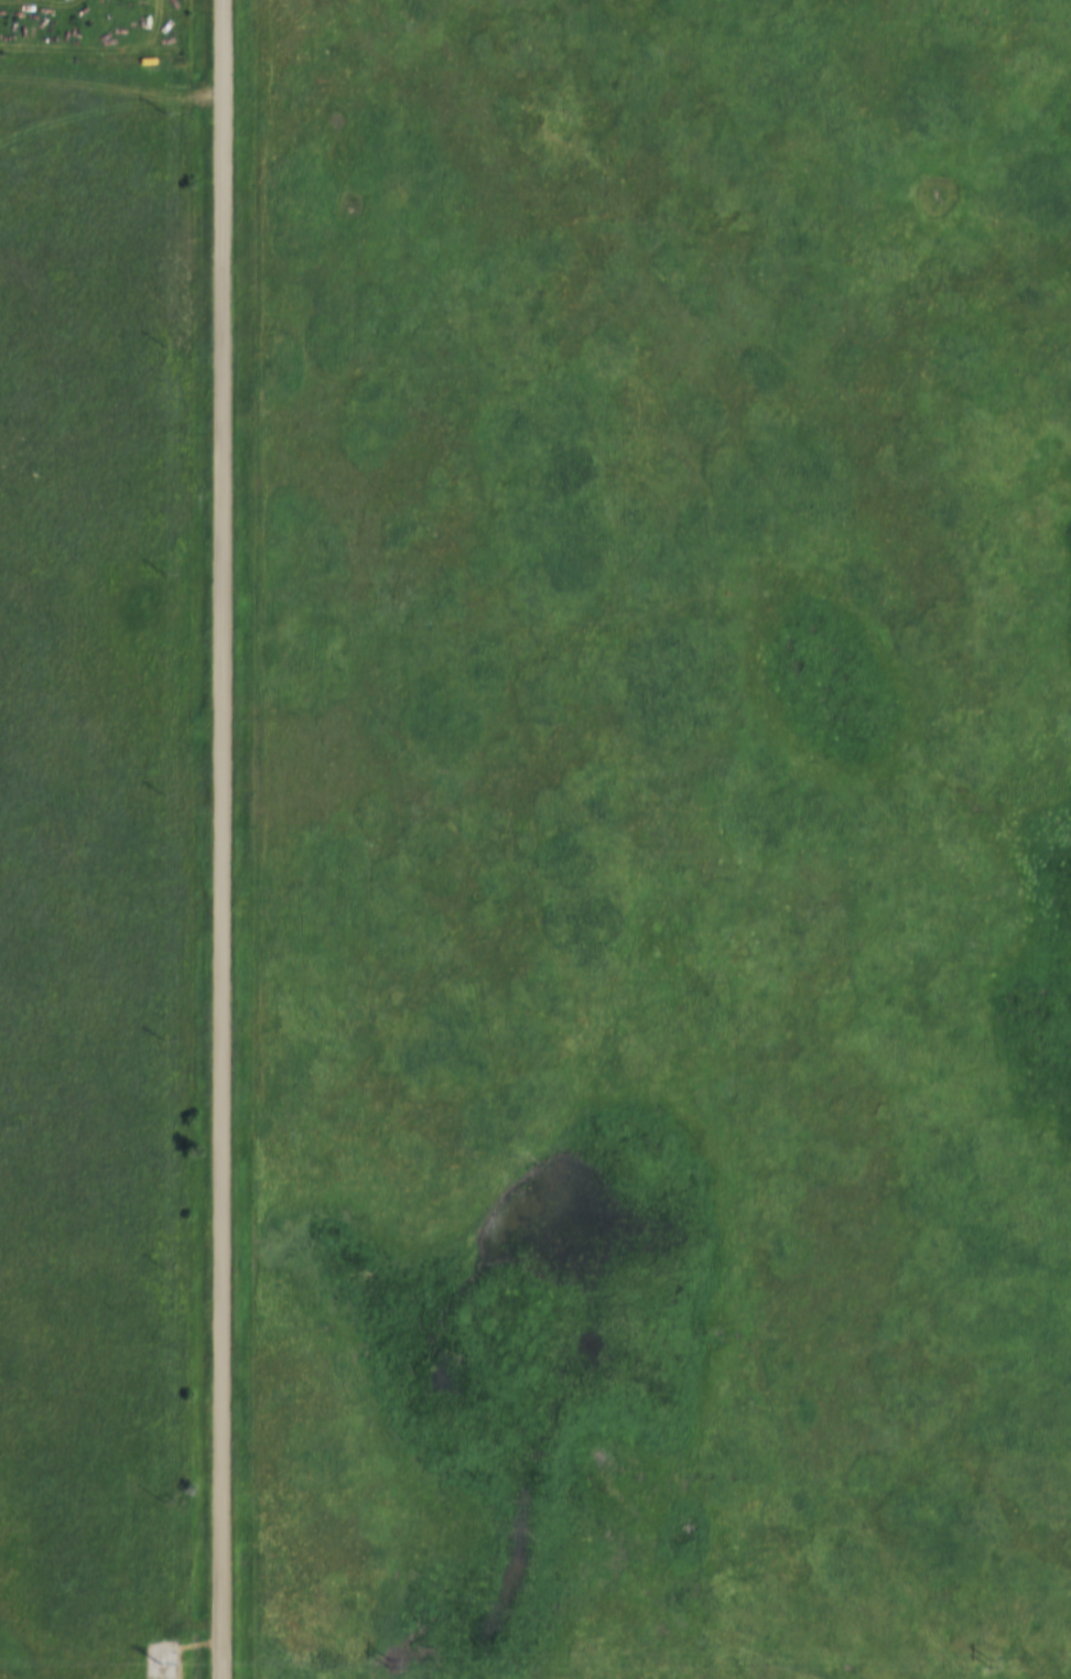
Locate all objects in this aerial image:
road: (219, 838)
power tower: (391, 1664)
power tower: (983, 1667)

